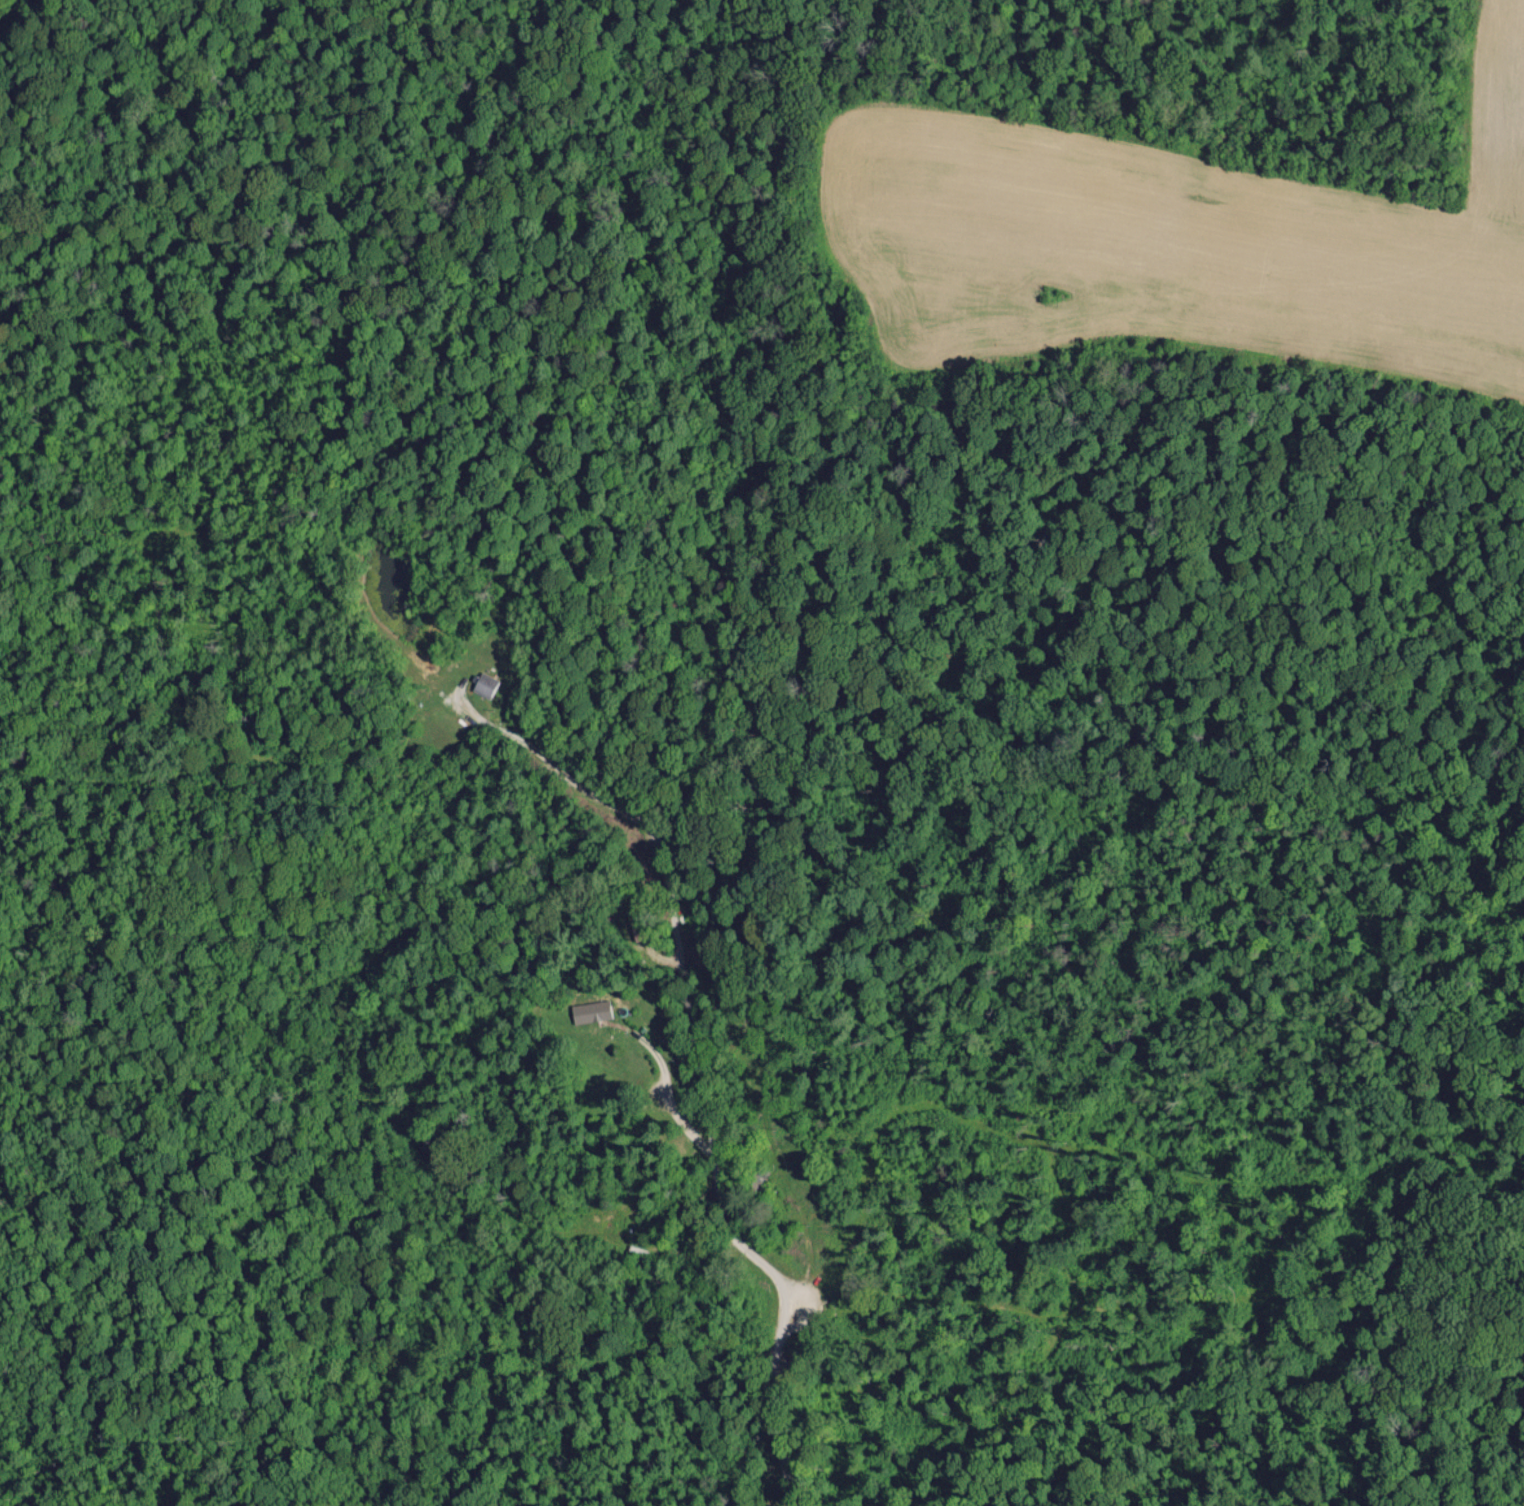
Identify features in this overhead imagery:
building: (485, 685)
building: (590, 1011)
road: (791, 1401)

